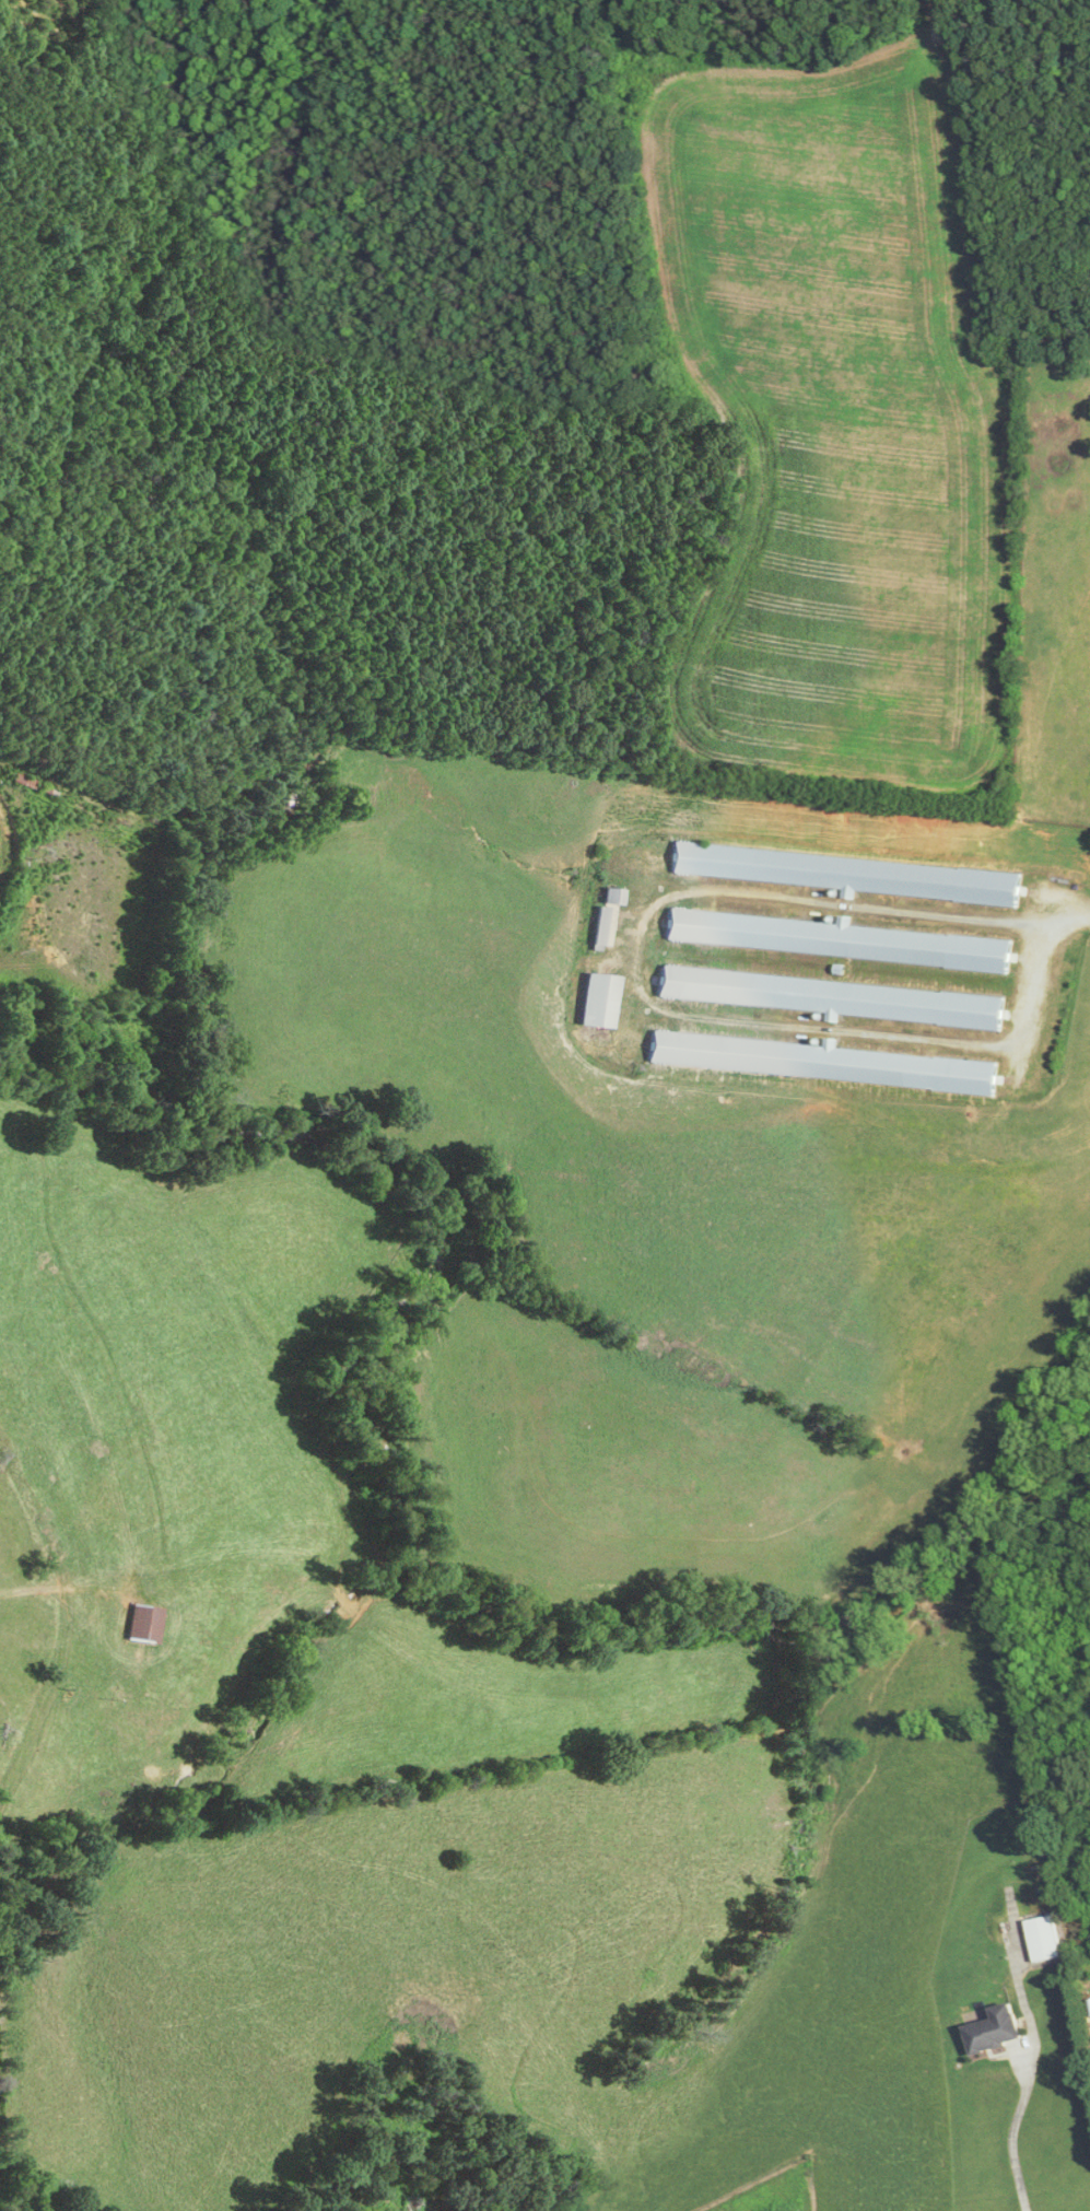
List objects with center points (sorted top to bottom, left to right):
building: (852, 874)
building: (608, 916)
building: (836, 939)
road: (1035, 968)
building: (836, 997)
building: (601, 999)
building: (824, 1062)
building: (144, 1624)
road: (61, 1730)
building: (1045, 1940)
building: (997, 2032)
road: (1011, 2133)

